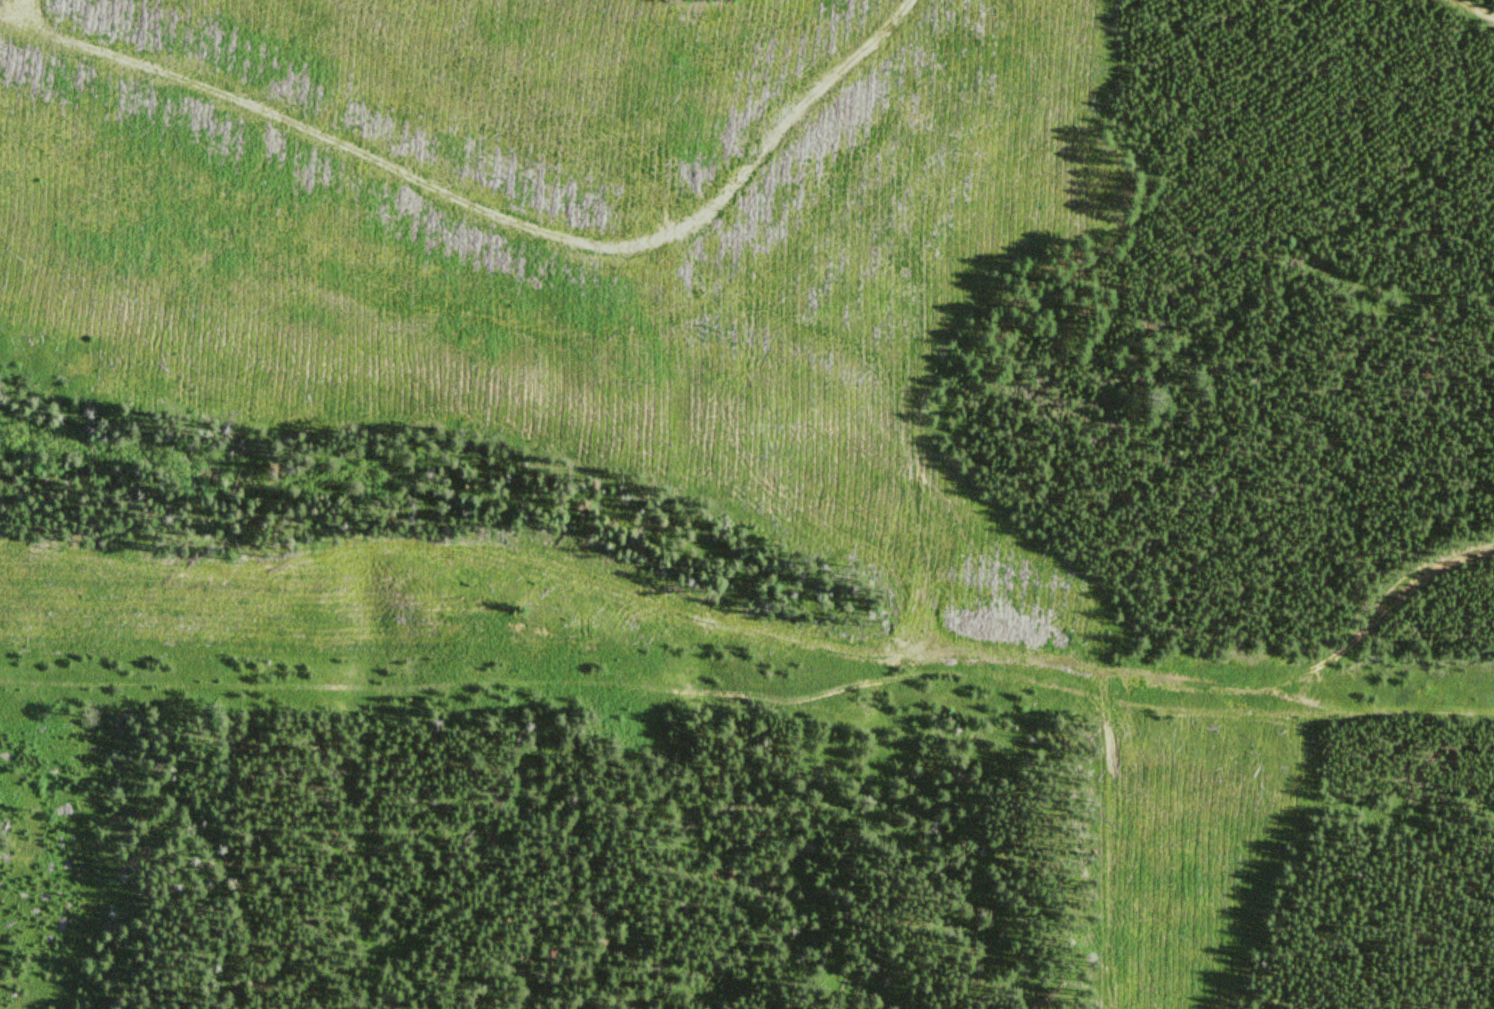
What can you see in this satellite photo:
road: (1477, 6)
road: (1355, 629)
road: (751, 703)

